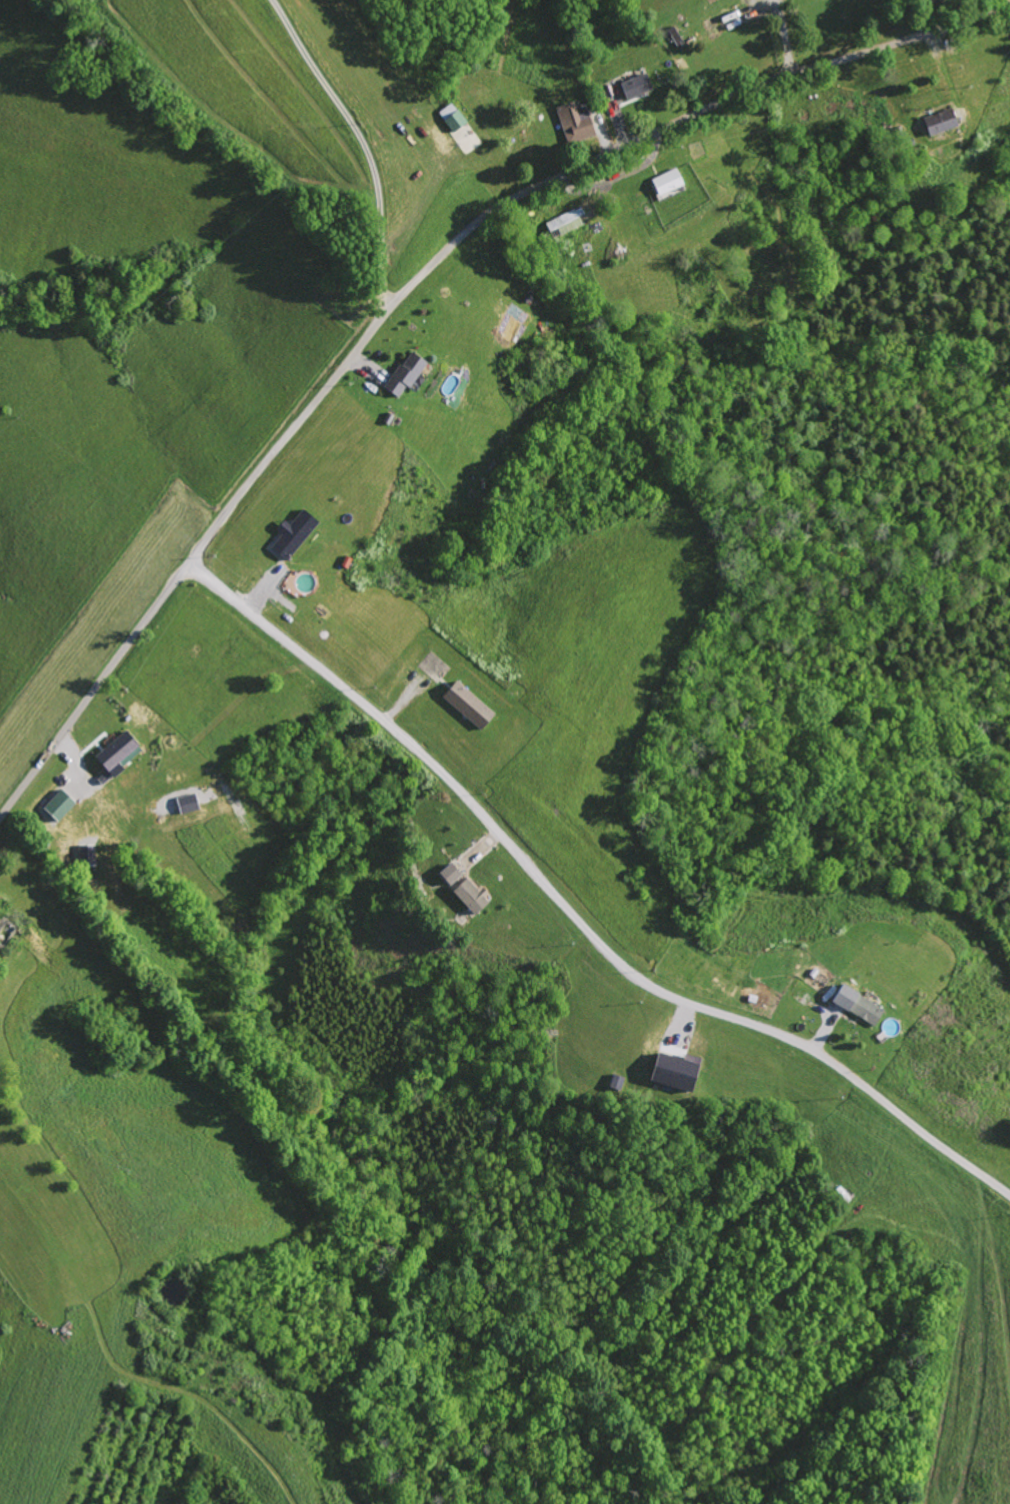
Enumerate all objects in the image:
building: (632, 86)
building: (448, 117)
building: (937, 121)
building: (570, 122)
road: (361, 141)
building: (664, 182)
building: (563, 223)
road: (410, 284)
building: (401, 373)
building: (289, 534)
building: (463, 705)
building: (114, 754)
building: (184, 804)
building: (55, 806)
building: (83, 855)
building: (447, 875)
building: (468, 897)
road: (572, 916)
building: (853, 1006)
building: (671, 1072)

